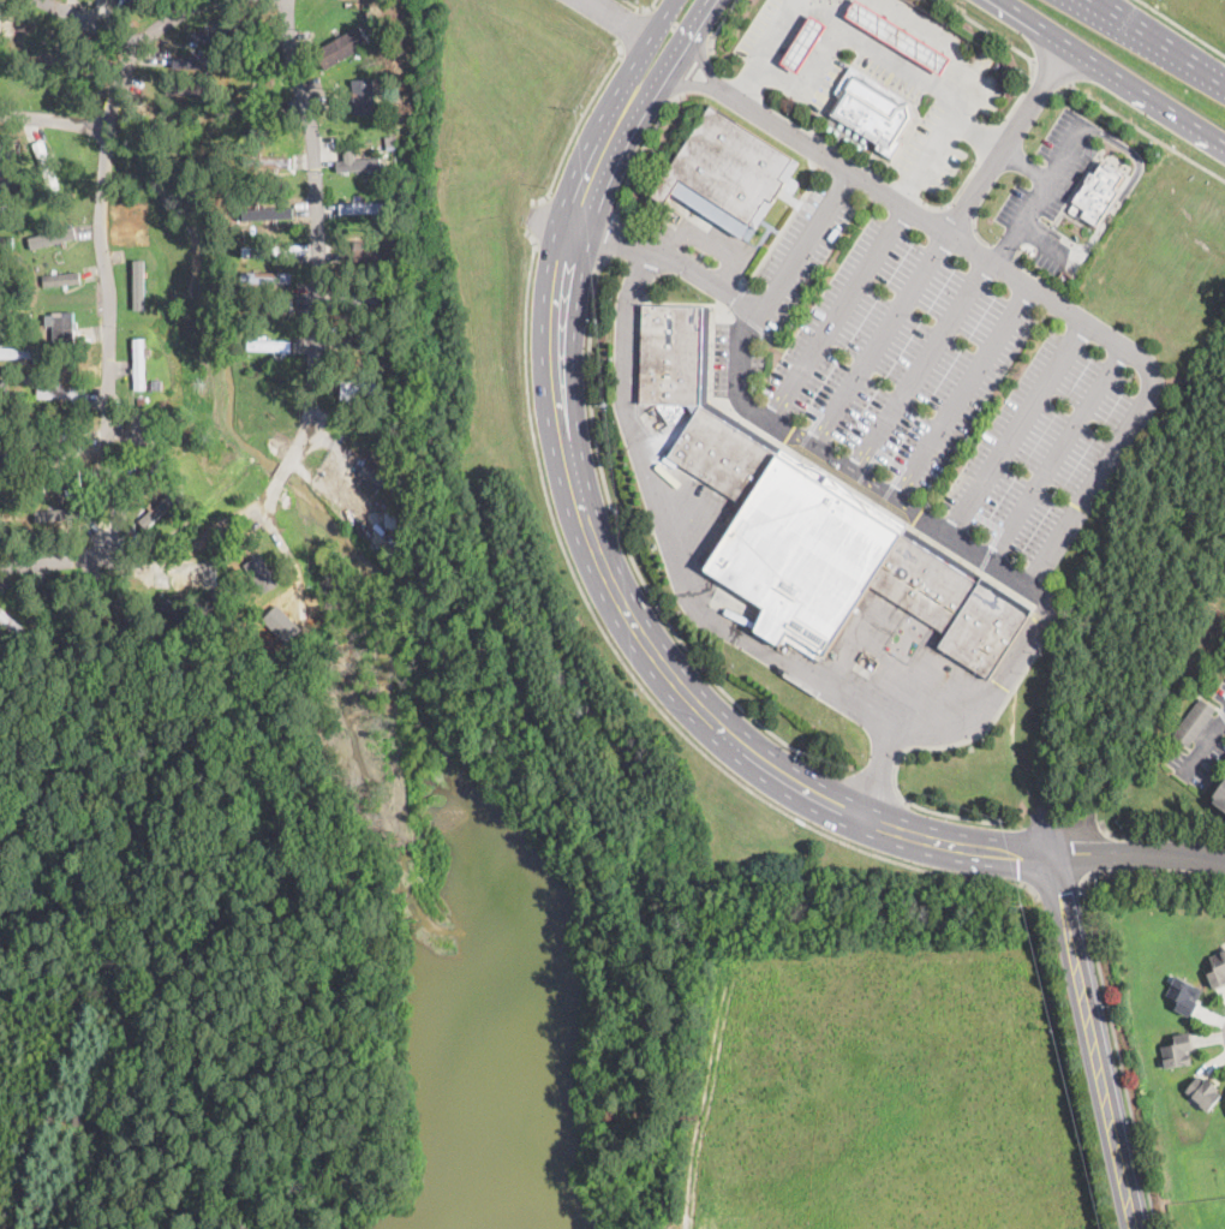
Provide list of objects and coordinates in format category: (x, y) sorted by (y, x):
road: (652, 6)
road: (641, 7)
road: (640, 8)
road: (619, 19)
road: (94, 20)
road: (718, 24)
road: (631, 25)
road: (679, 25)
road: (1182, 28)
building: (372, 29)
parking lot: (771, 31)
road: (711, 34)
building: (204, 35)
building: (897, 35)
building: (214, 40)
road: (1161, 41)
road: (683, 42)
building: (803, 43)
road: (766, 47)
building: (342, 48)
road: (1017, 48)
road: (701, 50)
road: (638, 55)
road: (884, 55)
building: (204, 62)
road: (960, 67)
road: (694, 70)
road: (1112, 70)
road: (1051, 71)
road: (688, 80)
road: (808, 82)
building: (190, 88)
building: (366, 95)
parking lot: (956, 101)
road: (637, 102)
building: (871, 109)
road: (52, 121)
road: (579, 123)
road: (811, 130)
road: (1146, 131)
road: (1009, 137)
road: (990, 138)
building: (389, 145)
road: (639, 154)
road: (921, 154)
building: (264, 161)
road: (1026, 162)
building: (46, 163)
building: (357, 163)
building: (727, 171)
road: (876, 172)
building: (383, 174)
road: (1048, 178)
road: (1131, 181)
parking lot: (1050, 187)
building: (1098, 192)
road: (955, 193)
road: (548, 196)
road: (581, 204)
building: (5, 205)
building: (366, 208)
road: (616, 209)
building: (268, 211)
road: (534, 216)
building: (392, 223)
building: (52, 235)
road: (1051, 235)
road: (614, 238)
road: (536, 240)
road: (803, 241)
road: (1004, 247)
building: (267, 251)
road: (568, 251)
road: (319, 252)
building: (365, 255)
road: (98, 256)
building: (19, 258)
road: (600, 263)
building: (7, 274)
building: (264, 276)
building: (62, 278)
building: (365, 294)
building: (267, 303)
road: (843, 312)
building: (16, 317)
building: (62, 326)
building: (6, 333)
road: (882, 338)
building: (354, 341)
building: (268, 345)
building: (19, 351)
building: (671, 353)
building: (139, 364)
road: (926, 366)
parking lot: (936, 375)
building: (159, 386)
building: (364, 386)
building: (5, 388)
building: (60, 392)
road: (967, 393)
building: (141, 398)
road: (1018, 426)
building: (58, 448)
road: (1058, 452)
building: (723, 453)
building: (2, 459)
building: (148, 470)
building: (372, 472)
building: (62, 478)
building: (13, 495)
building: (70, 507)
building: (53, 513)
building: (153, 514)
building: (393, 518)
building: (24, 532)
road: (673, 538)
building: (8, 539)
road: (1051, 548)
road: (629, 553)
building: (802, 553)
road: (106, 560)
building: (232, 567)
building: (255, 574)
building: (924, 581)
building: (115, 598)
building: (60, 603)
road: (626, 610)
building: (177, 611)
building: (222, 614)
building: (11, 624)
building: (985, 626)
building: (65, 638)
building: (5, 639)
road: (632, 672)
road: (968, 716)
building: (1194, 722)
road: (1202, 744)
road: (870, 788)
building: (1220, 797)
road: (963, 817)
road: (1062, 824)
road: (1111, 833)
road: (1161, 834)
road: (1099, 852)
road: (1139, 852)
road: (1090, 873)
road: (1082, 882)
road: (1054, 883)
building: (1218, 972)
road: (1102, 985)
building: (1183, 995)
road: (1089, 1040)
building: (1177, 1050)
park: (544, 1068)
building: (1203, 1093)

